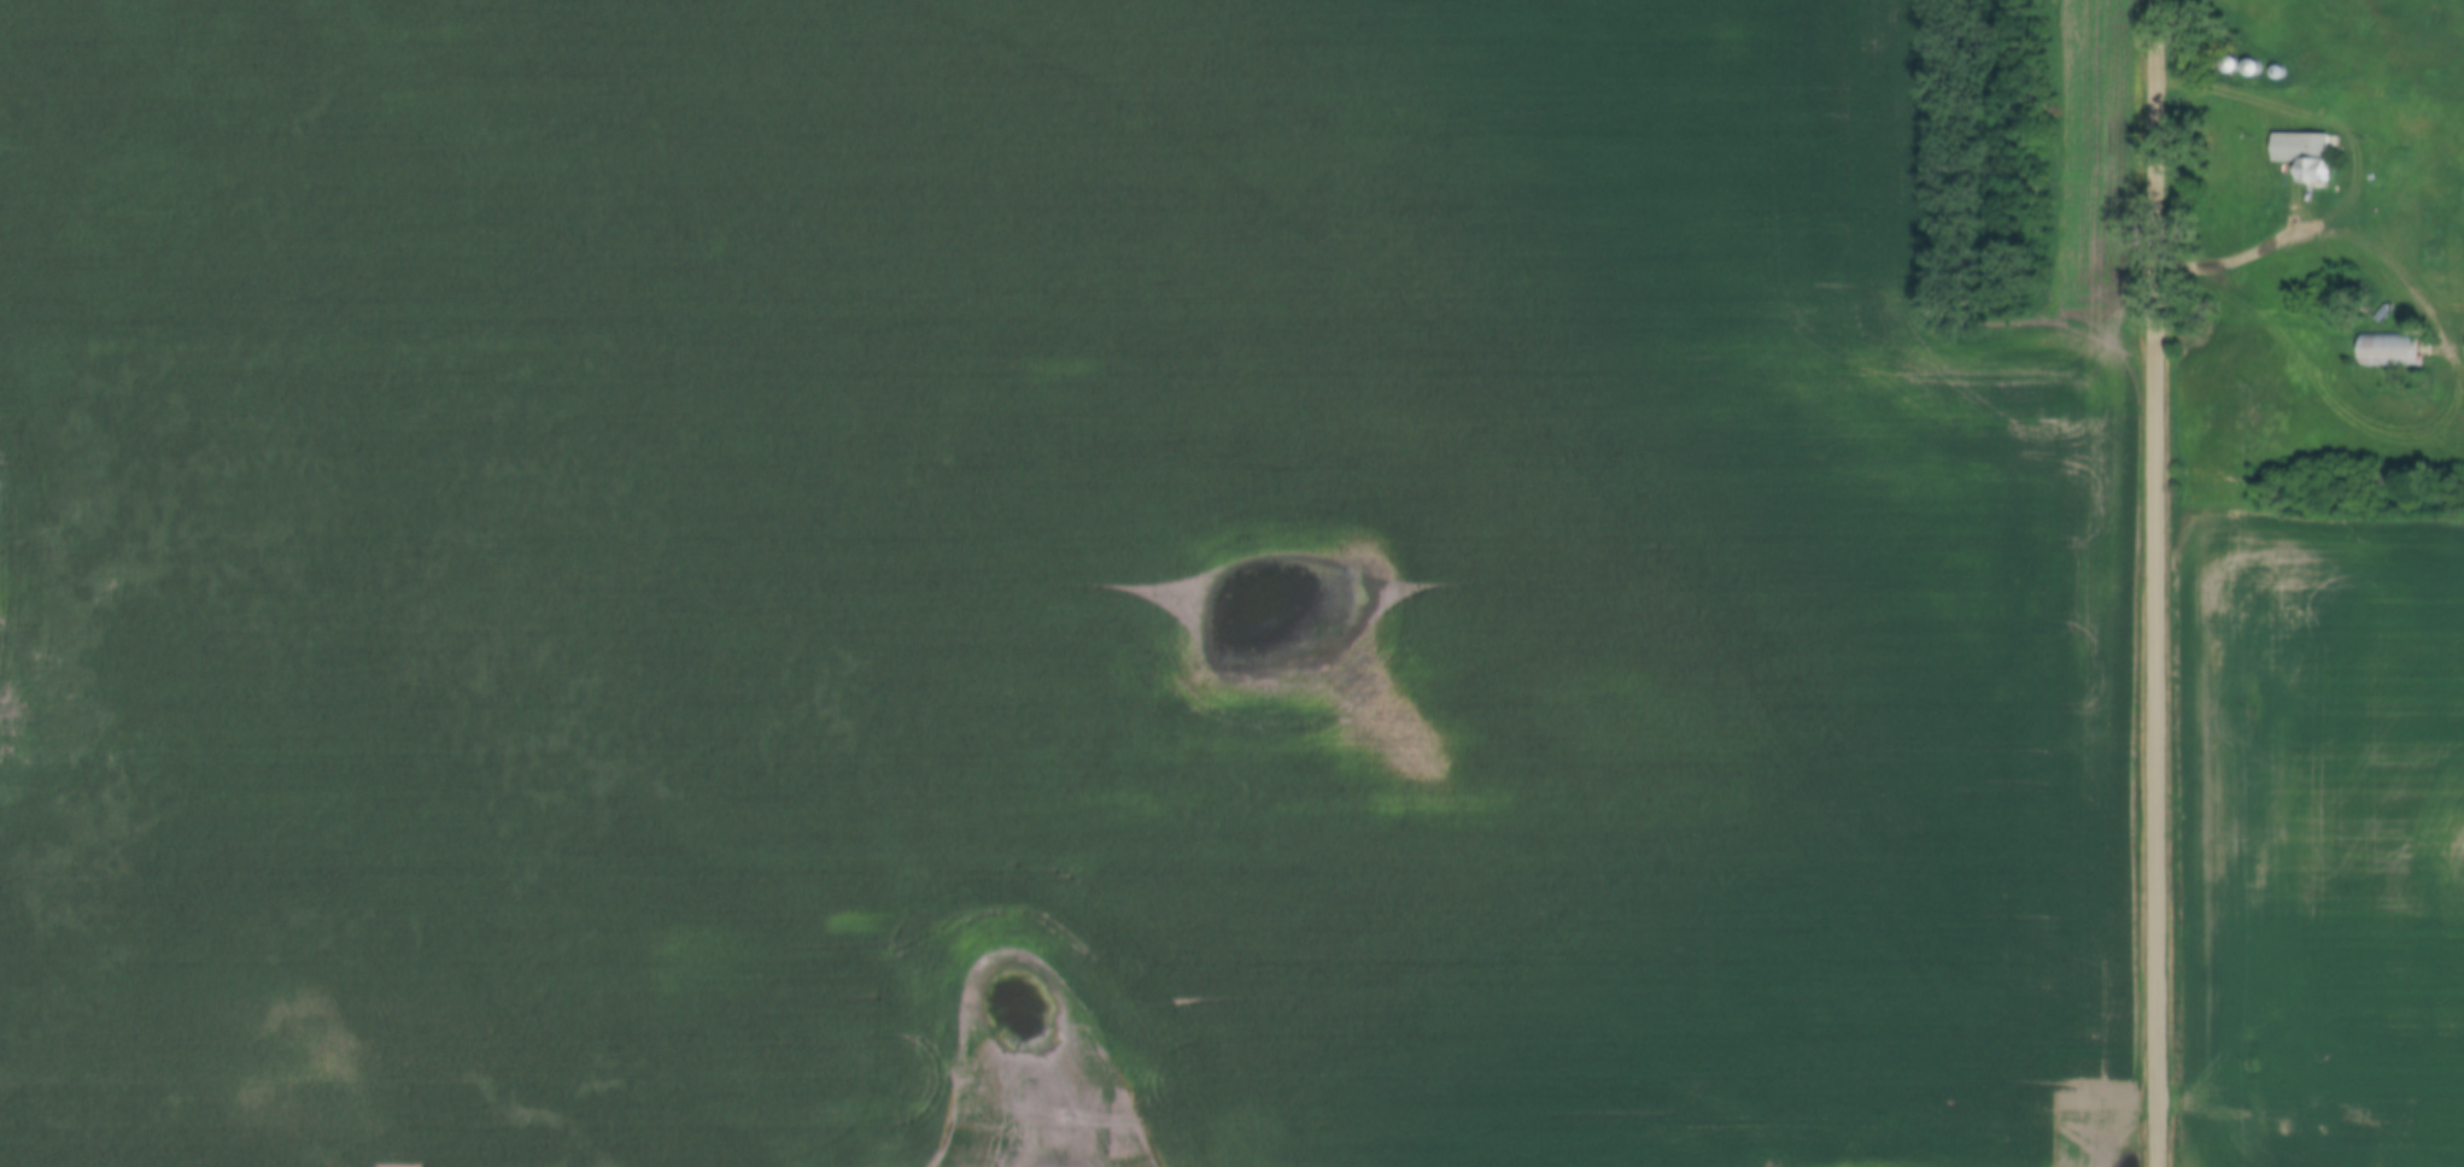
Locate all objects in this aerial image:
building: (2305, 156)
road: (2244, 247)
building: (2435, 254)
building: (2390, 352)
road: (2153, 583)

